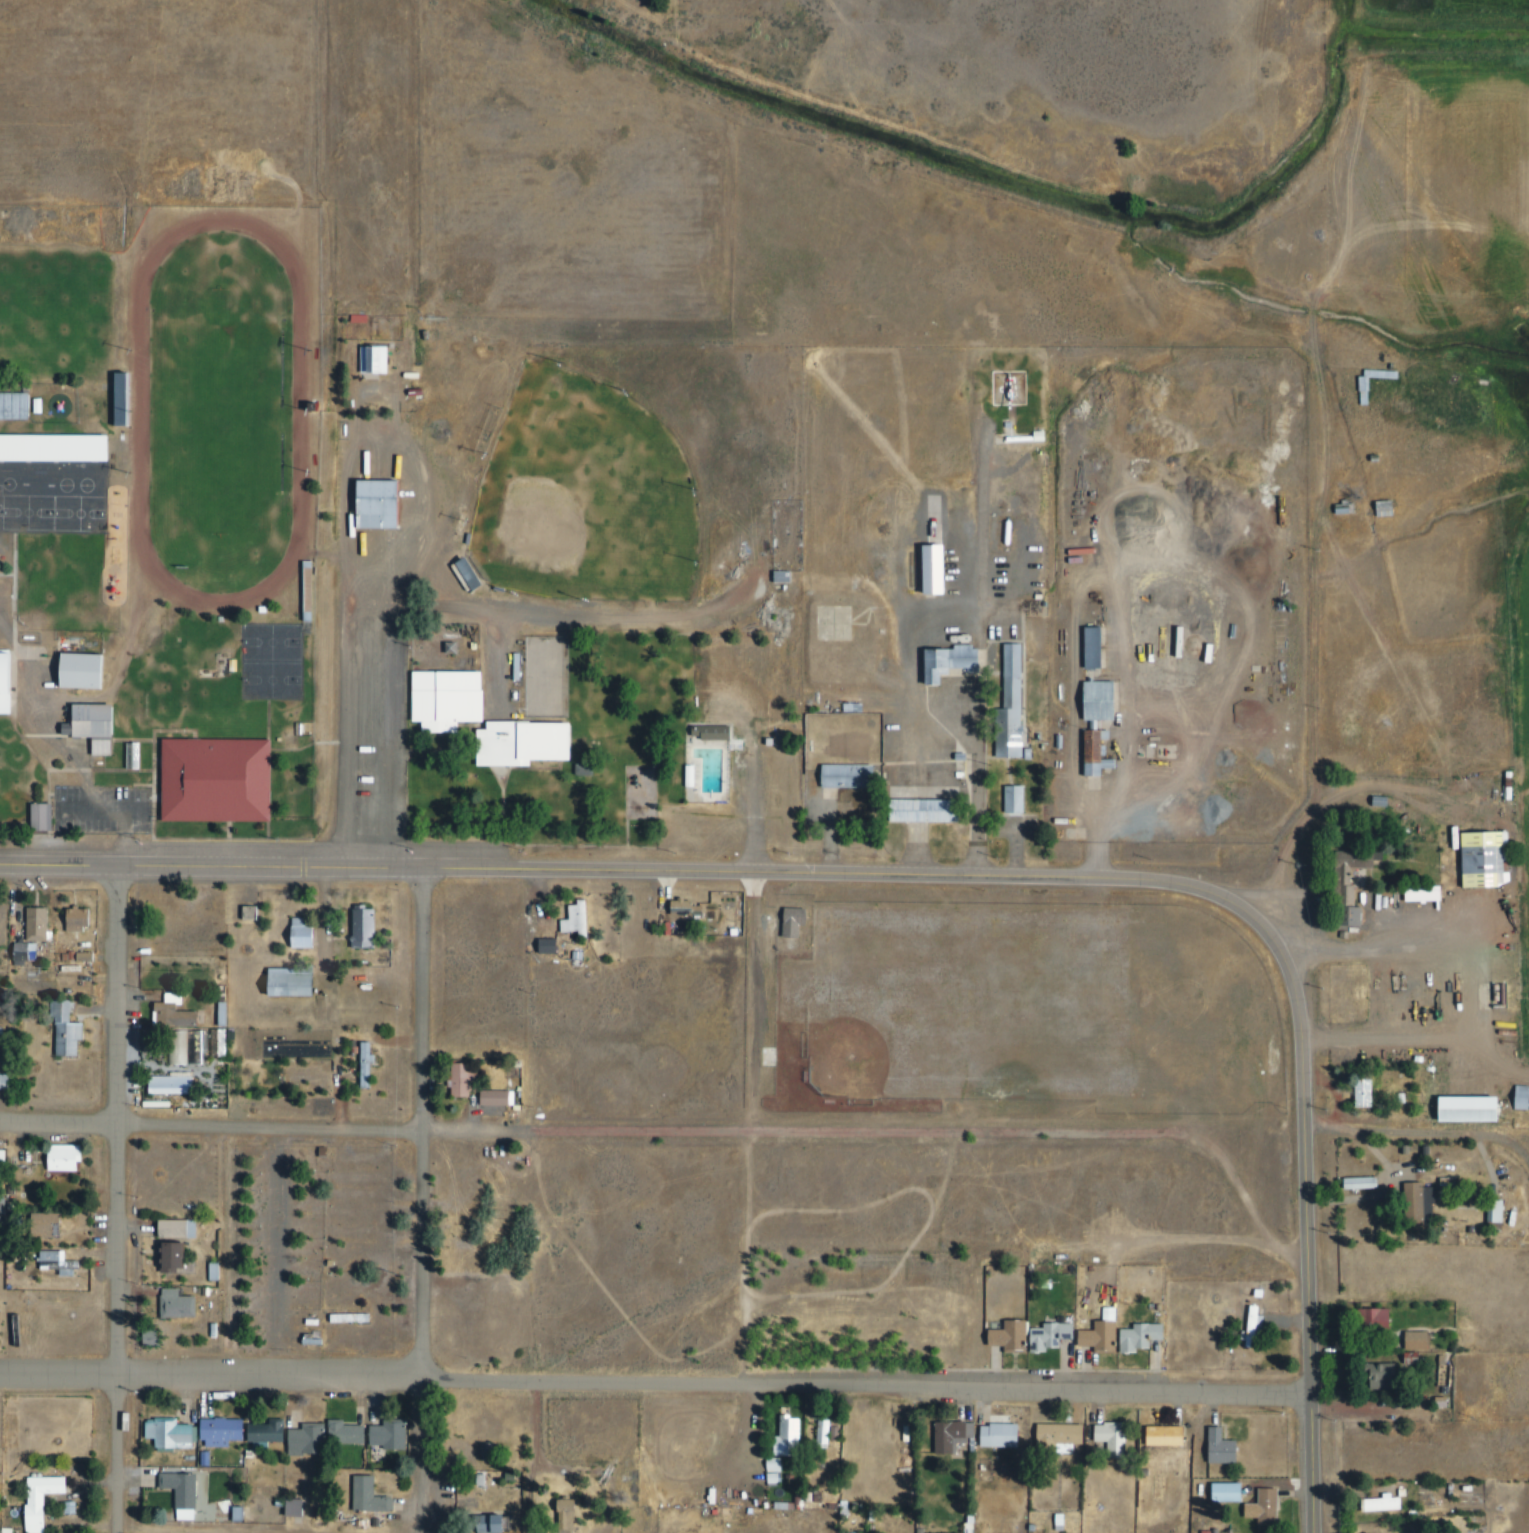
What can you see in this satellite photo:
crop: (1442, 194)
building: (370, 318)
building: (383, 358)
helipad: (1020, 388)
building: (1362, 392)
building: (1374, 392)
building: (130, 399)
building: (117, 400)
building: (19, 406)
building: (47, 406)
park: (234, 411)
track: (234, 412)
road: (19, 420)
building: (1037, 438)
building: (134, 442)
building: (58, 448)
park: (619, 457)
building: (1385, 458)
park: (598, 497)
building: (384, 504)
building: (1395, 506)
building: (1354, 508)
park: (40, 512)
park: (92, 513)
building: (1, 562)
road: (1327, 565)
building: (928, 570)
building: (942, 570)
building: (475, 573)
building: (463, 574)
building: (790, 575)
building: (779, 577)
building: (316, 590)
road: (560, 615)
helipad: (838, 625)
park: (284, 644)
building: (1100, 646)
building: (1088, 648)
road: (995, 650)
building: (959, 664)
road: (130, 666)
building: (91, 670)
park: (557, 675)
park: (284, 682)
road: (1138, 682)
building: (10, 684)
building: (453, 699)
road: (46, 701)
road: (25, 704)
building: (1019, 705)
building: (1007, 706)
road: (374, 718)
building: (1107, 721)
building: (103, 725)
building: (708, 733)
road: (101, 737)
building: (528, 743)
road: (326, 744)
building: (1092, 754)
building: (143, 755)
road: (492, 758)
road: (114, 770)
road: (767, 773)
building: (857, 775)
building: (698, 776)
building: (223, 780)
building: (1389, 798)
building: (1011, 800)
building: (1024, 800)
building: (929, 811)
building: (51, 817)
building: (37, 818)
road: (129, 819)
road: (1312, 826)
building: (1355, 833)
building: (1494, 858)
road: (631, 869)
building: (1359, 870)
road: (1270, 891)
building: (1430, 895)
building: (689, 905)
building: (261, 912)
building: (246, 913)
building: (1355, 917)
building: (23, 918)
building: (74, 918)
building: (87, 918)
building: (585, 918)
building: (573, 920)
building: (801, 921)
road: (337, 922)
building: (789, 922)
building: (45, 926)
building: (370, 929)
building: (311, 932)
building: (743, 932)
building: (298, 933)
building: (97, 944)
building: (556, 944)
building: (91, 945)
building: (543, 947)
building: (29, 953)
building: (80, 956)
road: (1488, 976)
building: (299, 982)
park: (1358, 993)
road: (434, 997)
building: (181, 998)
park: (970, 1005)
building: (230, 1014)
building: (182, 1017)
building: (62, 1029)
building: (74, 1032)
building: (226, 1042)
building: (176, 1048)
building: (185, 1048)
road: (1501, 1060)
building: (373, 1062)
building: (363, 1064)
road: (168, 1067)
building: (6, 1079)
building: (468, 1081)
building: (174, 1085)
road: (1341, 1085)
building: (1370, 1091)
building: (504, 1098)
building: (1518, 1098)
building: (164, 1104)
building: (1476, 1109)
road: (217, 1122)
road: (762, 1127)
road: (1419, 1127)
road: (906, 1132)
building: (331, 1152)
building: (72, 1158)
road: (1456, 1162)
road: (1500, 1172)
building: (1367, 1182)
road: (1394, 1193)
road: (125, 1198)
building: (1424, 1202)
building: (1504, 1211)
building: (1492, 1212)
road: (1309, 1218)
building: (40, 1224)
building: (183, 1228)
road: (239, 1250)
road: (285, 1251)
building: (178, 1256)
building: (66, 1260)
building: (1266, 1292)
building: (185, 1303)
building: (3, 1309)
building: (359, 1317)
road: (431, 1317)
building: (1252, 1320)
building: (1378, 1320)
building: (320, 1321)
building: (1259, 1327)
building: (223, 1330)
building: (1014, 1335)
building: (1058, 1335)
building: (1107, 1335)
building: (146, 1337)
building: (158, 1337)
building: (1148, 1337)
building: (1423, 1338)
building: (320, 1339)
building: (1413, 1340)
building: (1385, 1376)
road: (658, 1382)
building: (1449, 1401)
road: (1374, 1411)
building: (277, 1430)
building: (799, 1430)
building: (351, 1431)
building: (830, 1431)
building: (229, 1432)
building: (178, 1433)
building: (397, 1433)
building: (1118, 1433)
building: (820, 1434)
building: (1068, 1434)
building: (959, 1435)
building: (1172, 1435)
building: (314, 1436)
building: (1007, 1436)
building: (1228, 1445)
building: (785, 1451)
road: (549, 1454)
building: (214, 1458)
building: (771, 1465)
building: (781, 1466)
building: (189, 1486)
building: (1169, 1489)
building: (1234, 1492)
building: (177, 1493)
building: (377, 1494)
road: (542, 1495)
building: (48, 1500)
building: (1393, 1502)
building: (1272, 1506)
building: (79, 1507)
building: (290, 1507)
building: (304, 1507)
building: (1260, 1507)
building: (246, 1513)
building: (573, 1514)
building: (562, 1516)
building: (1067, 1518)
building: (497, 1522)
building: (978, 1522)
road: (416, 1524)
building: (484, 1524)
building: (16, 1530)
building: (929, 1530)
building: (1224, 1530)
building: (1217, 1531)
road: (165, 1532)

